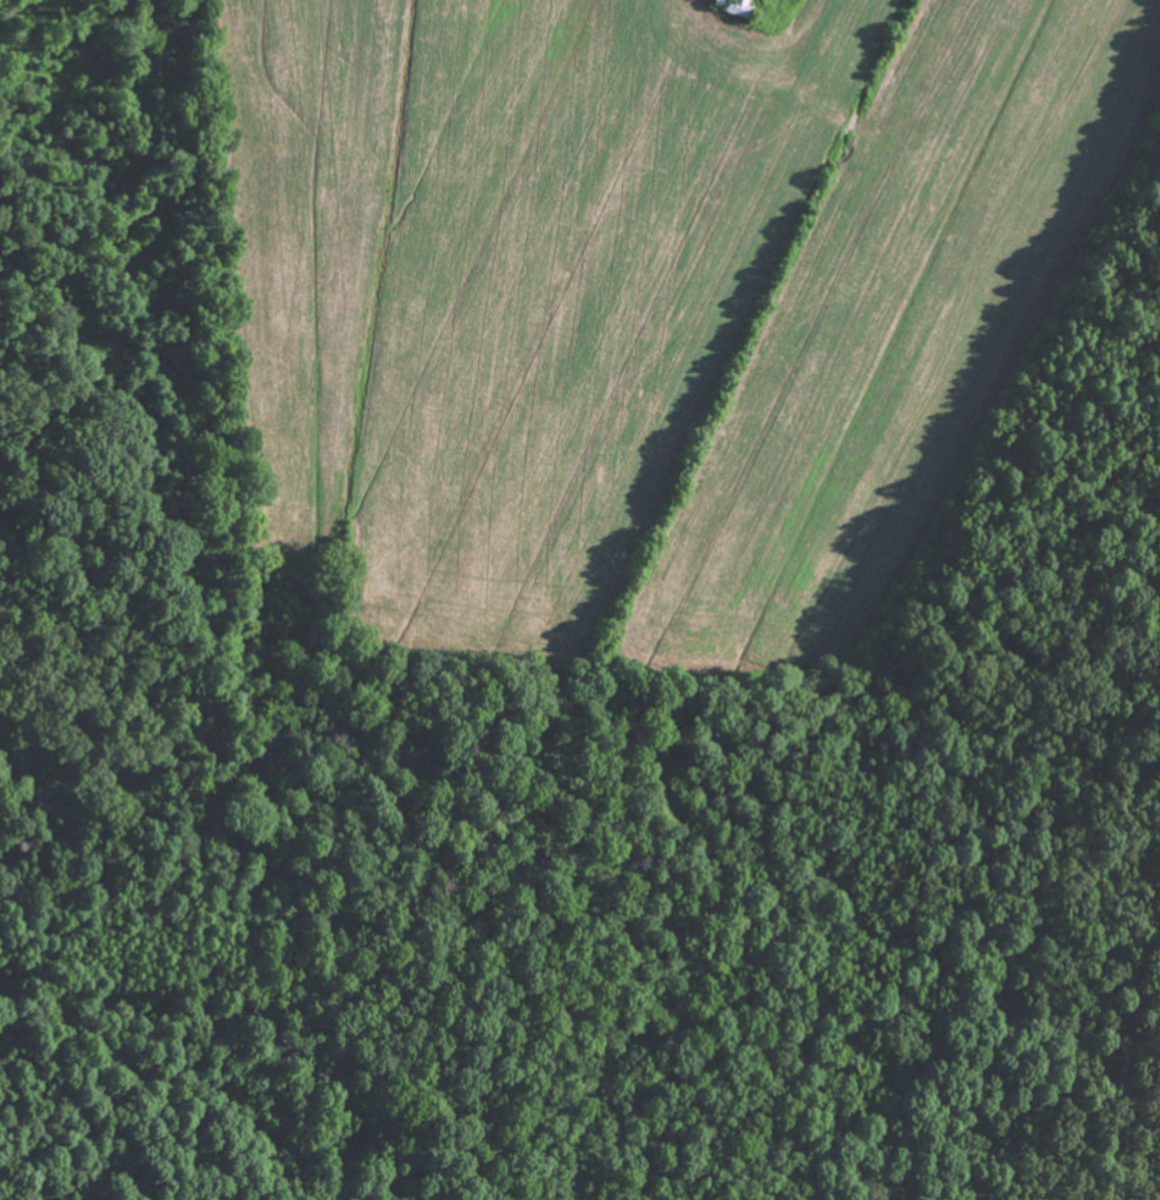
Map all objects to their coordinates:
building: (734, 7)

